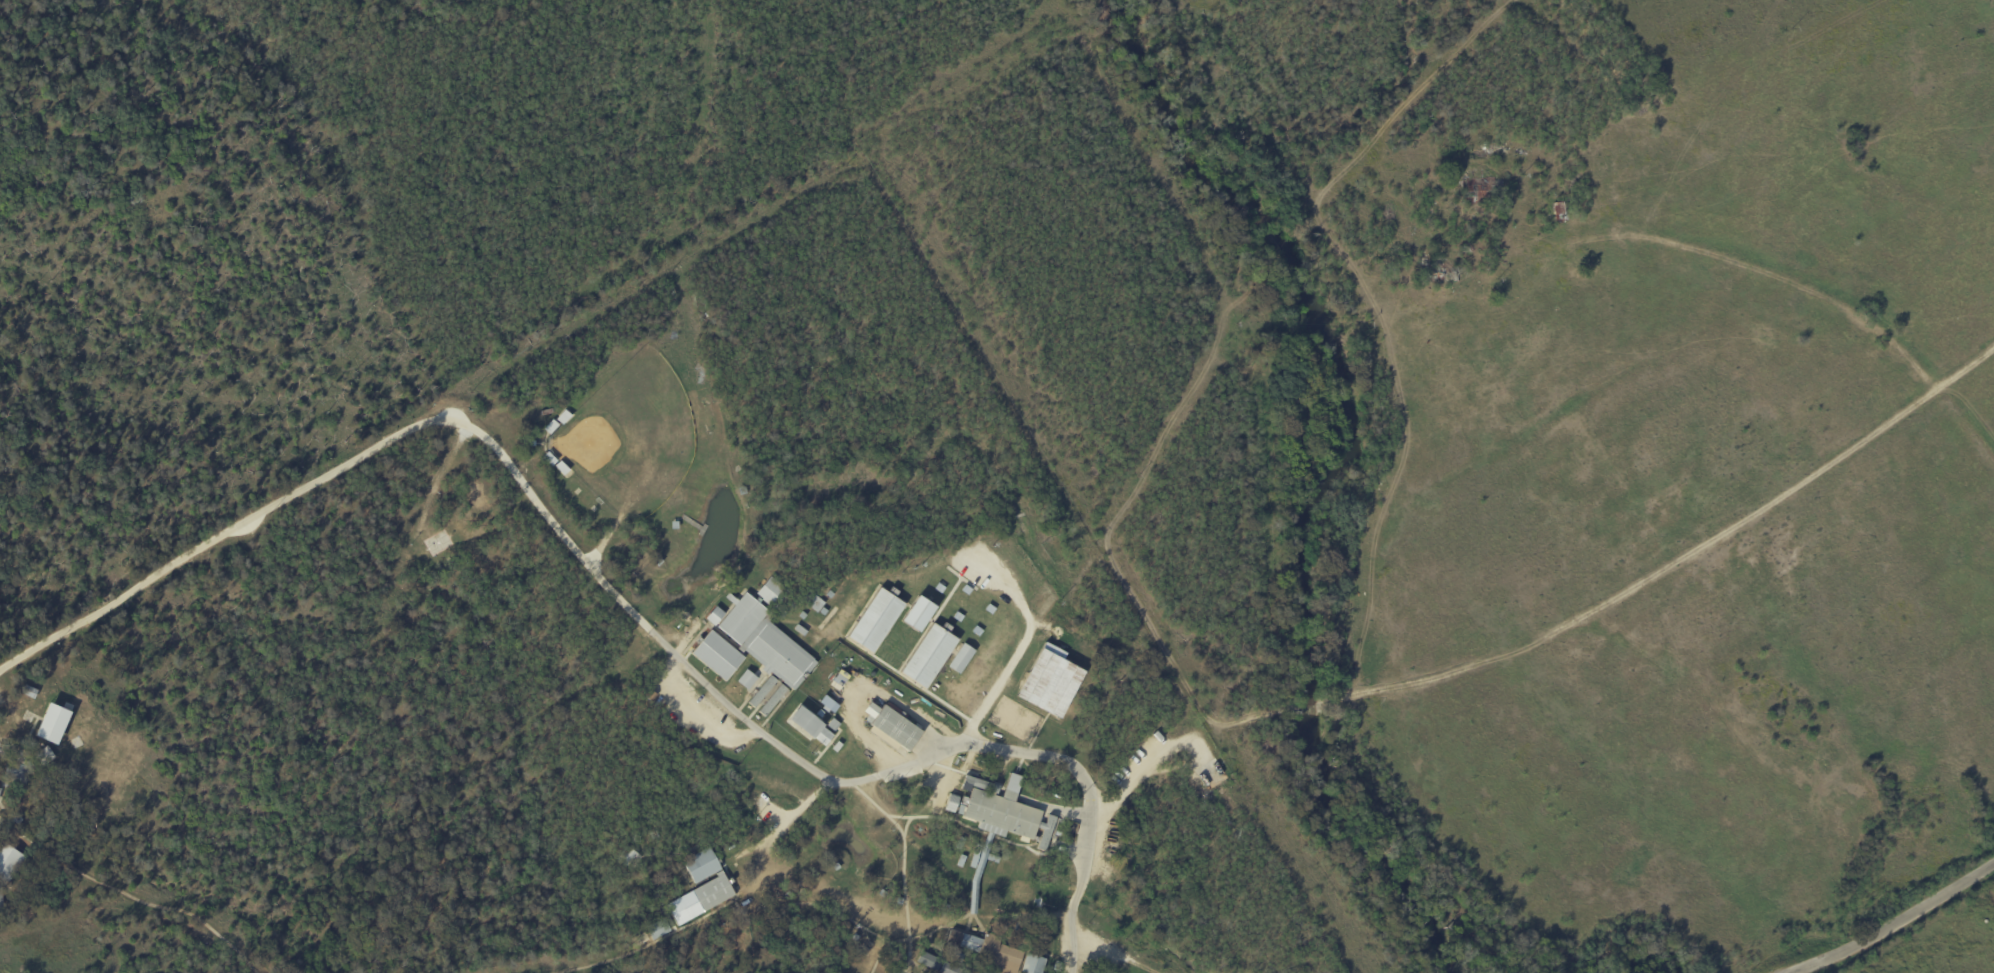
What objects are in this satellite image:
road: (1787, 281)
building: (562, 416)
building: (549, 426)
road: (556, 543)
building: (771, 592)
building: (916, 613)
building: (715, 615)
building: (742, 618)
building: (874, 620)
building: (751, 636)
road: (1014, 650)
building: (1052, 650)
building: (717, 655)
building: (927, 655)
building: (960, 658)
building: (777, 666)
building: (746, 679)
building: (1048, 682)
building: (50, 723)
building: (812, 725)
building: (894, 727)
building: (0, 789)
building: (950, 802)
building: (1001, 809)
road: (781, 821)
building: (9, 861)
building: (701, 887)
road: (1070, 898)
building: (1, 900)
road: (1894, 925)
building: (658, 928)
building: (988, 950)
building: (929, 960)
building: (1032, 964)
building: (949, 968)

